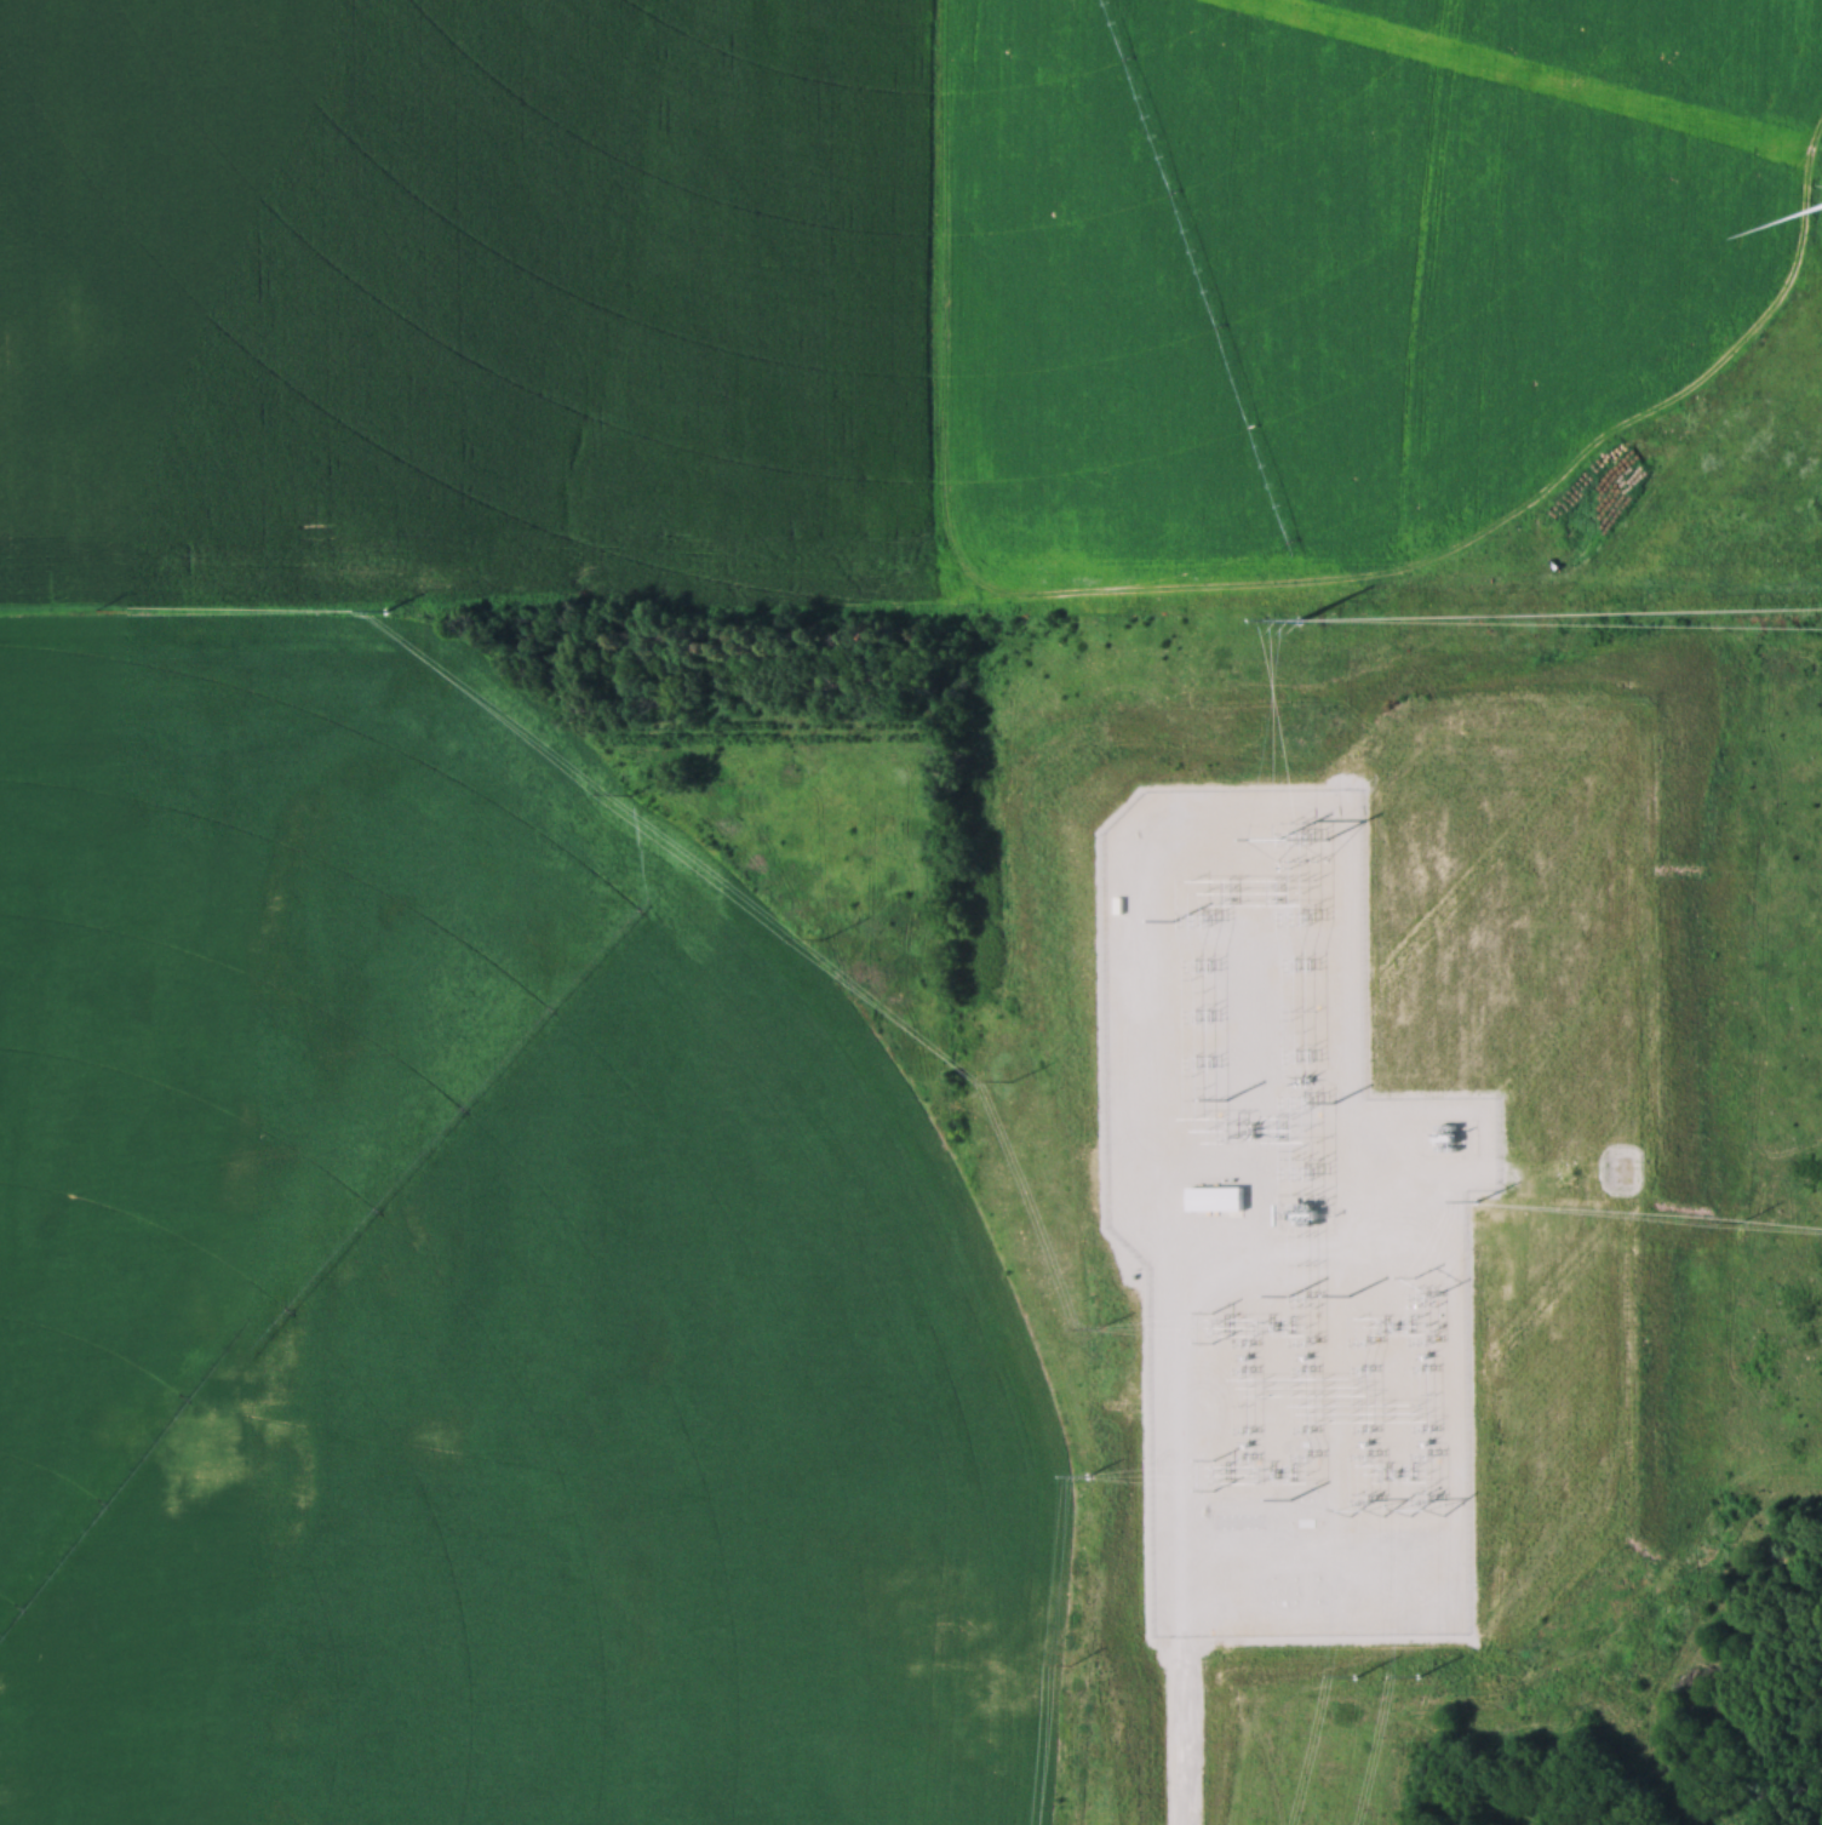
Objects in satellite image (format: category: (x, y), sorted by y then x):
power tower: (1297, 619)
power substation: (1284, 1228)

